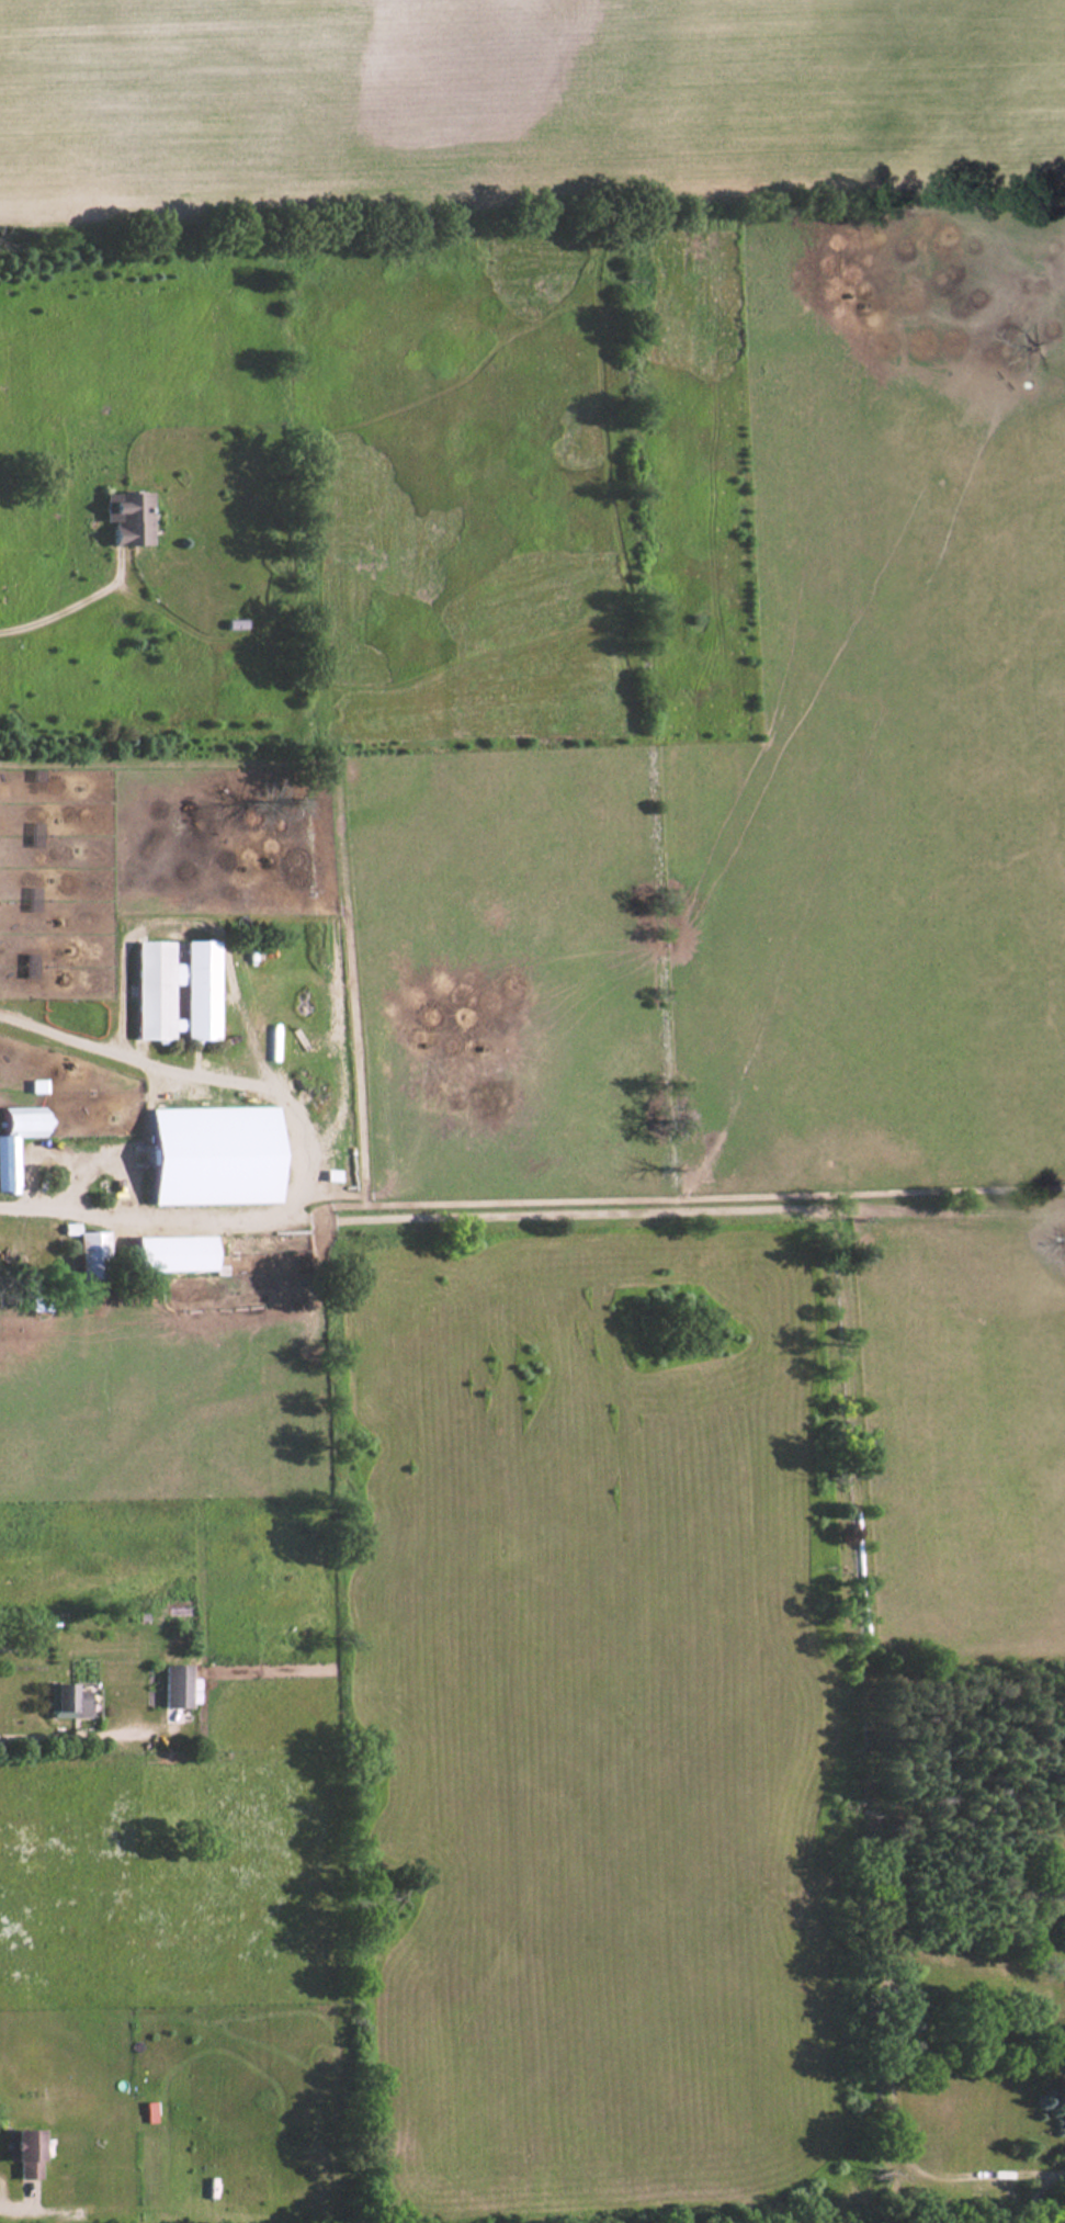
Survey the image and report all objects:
building: (129, 516)
road: (61, 610)
building: (177, 991)
building: (16, 1140)
road: (128, 1152)
road: (315, 1155)
building: (169, 1251)
building: (94, 1253)
building: (175, 1683)
building: (68, 1696)
road: (73, 1729)
building: (20, 2149)
road: (19, 2208)

